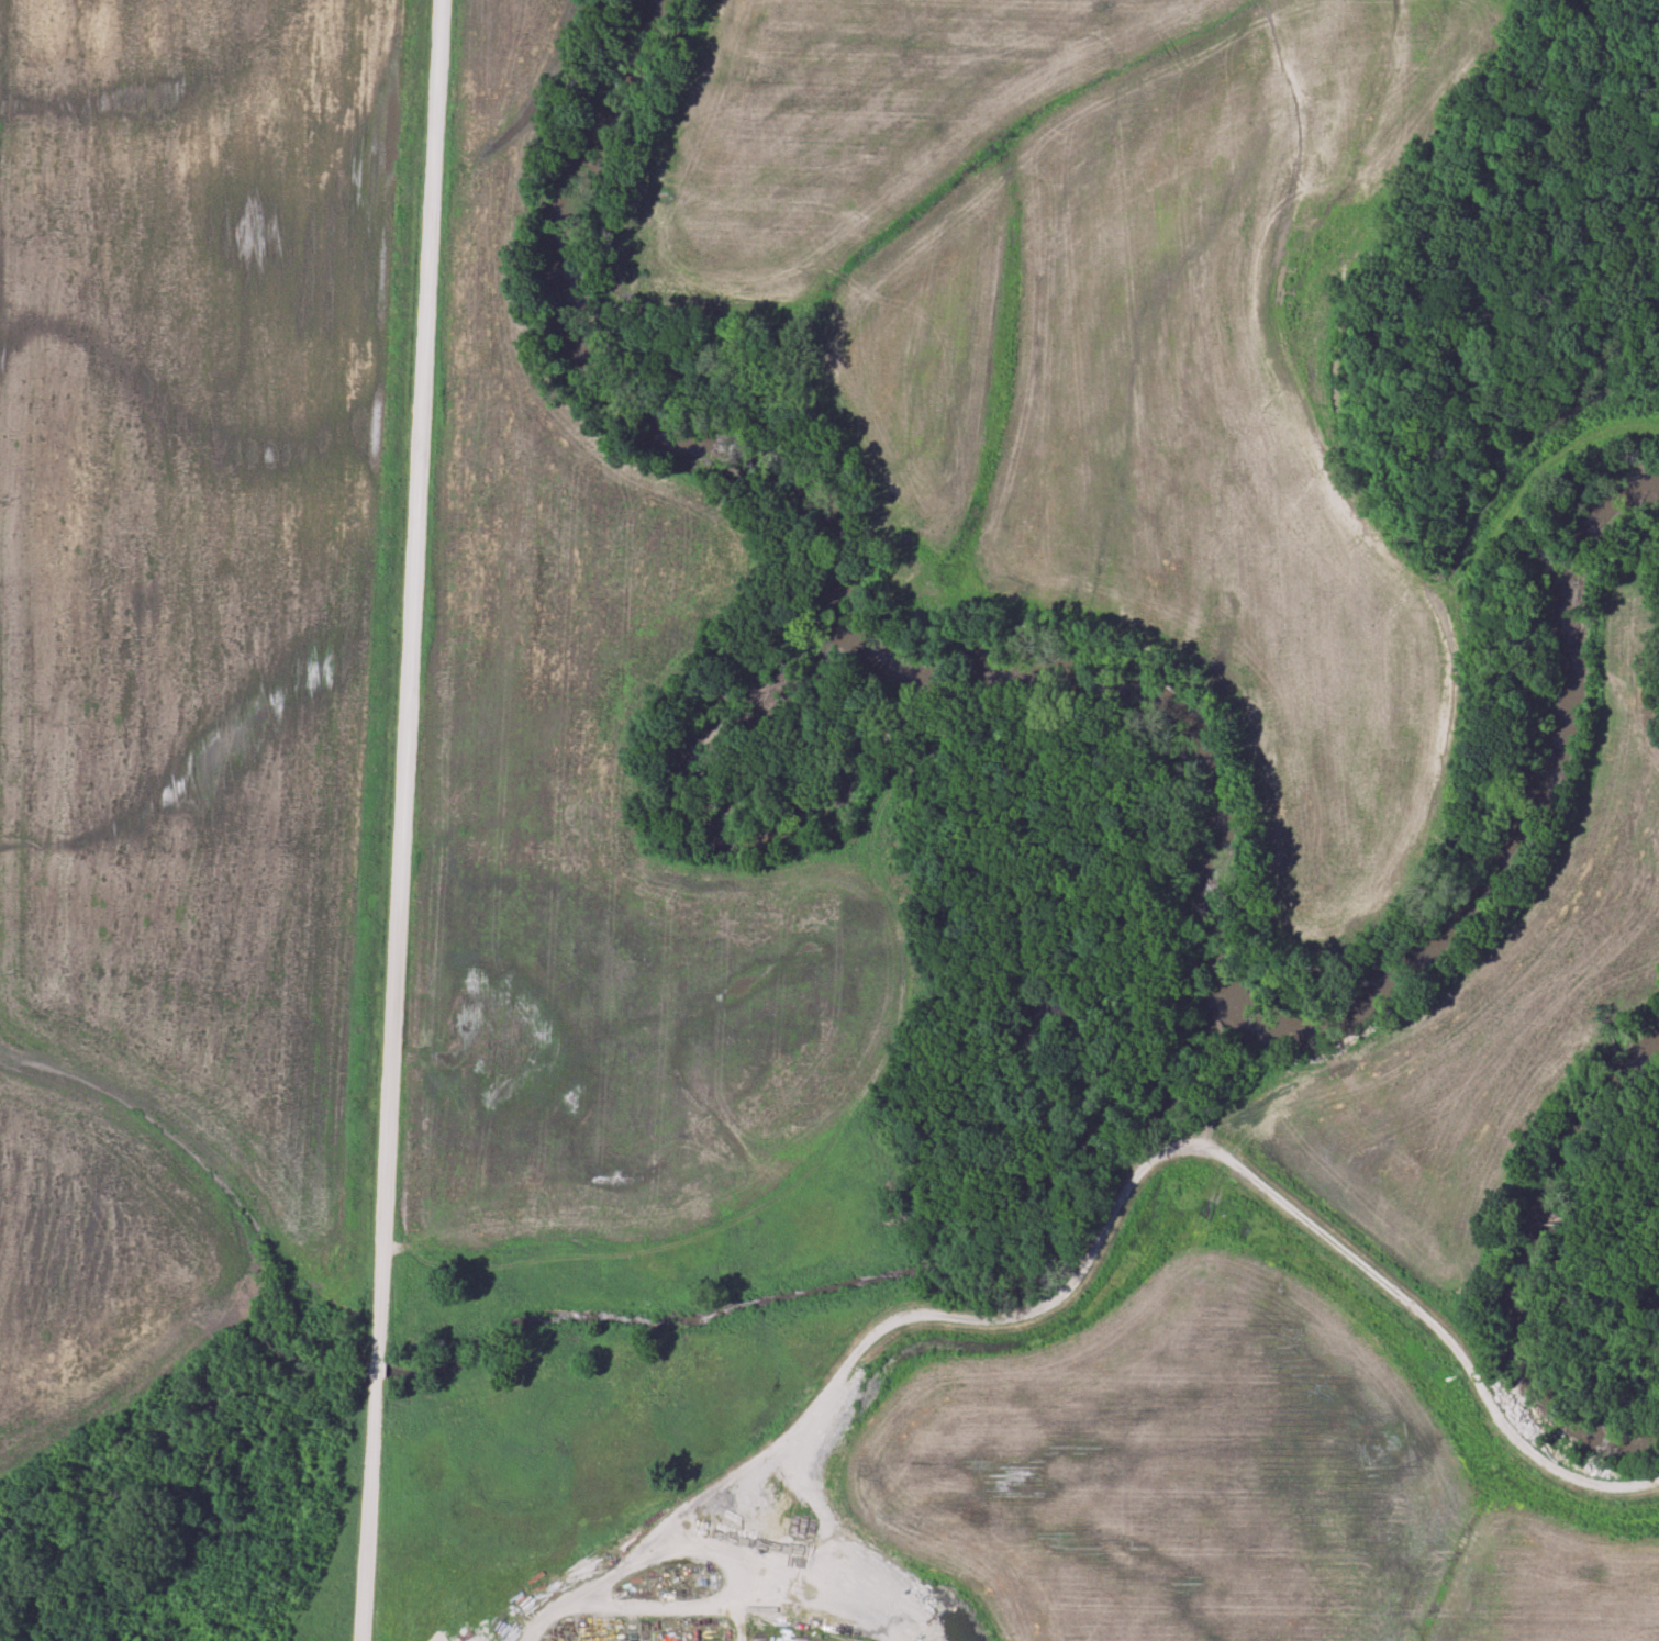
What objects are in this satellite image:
crop: (202, 674)
river: (920, 723)
road: (405, 820)
river: (1514, 1271)

